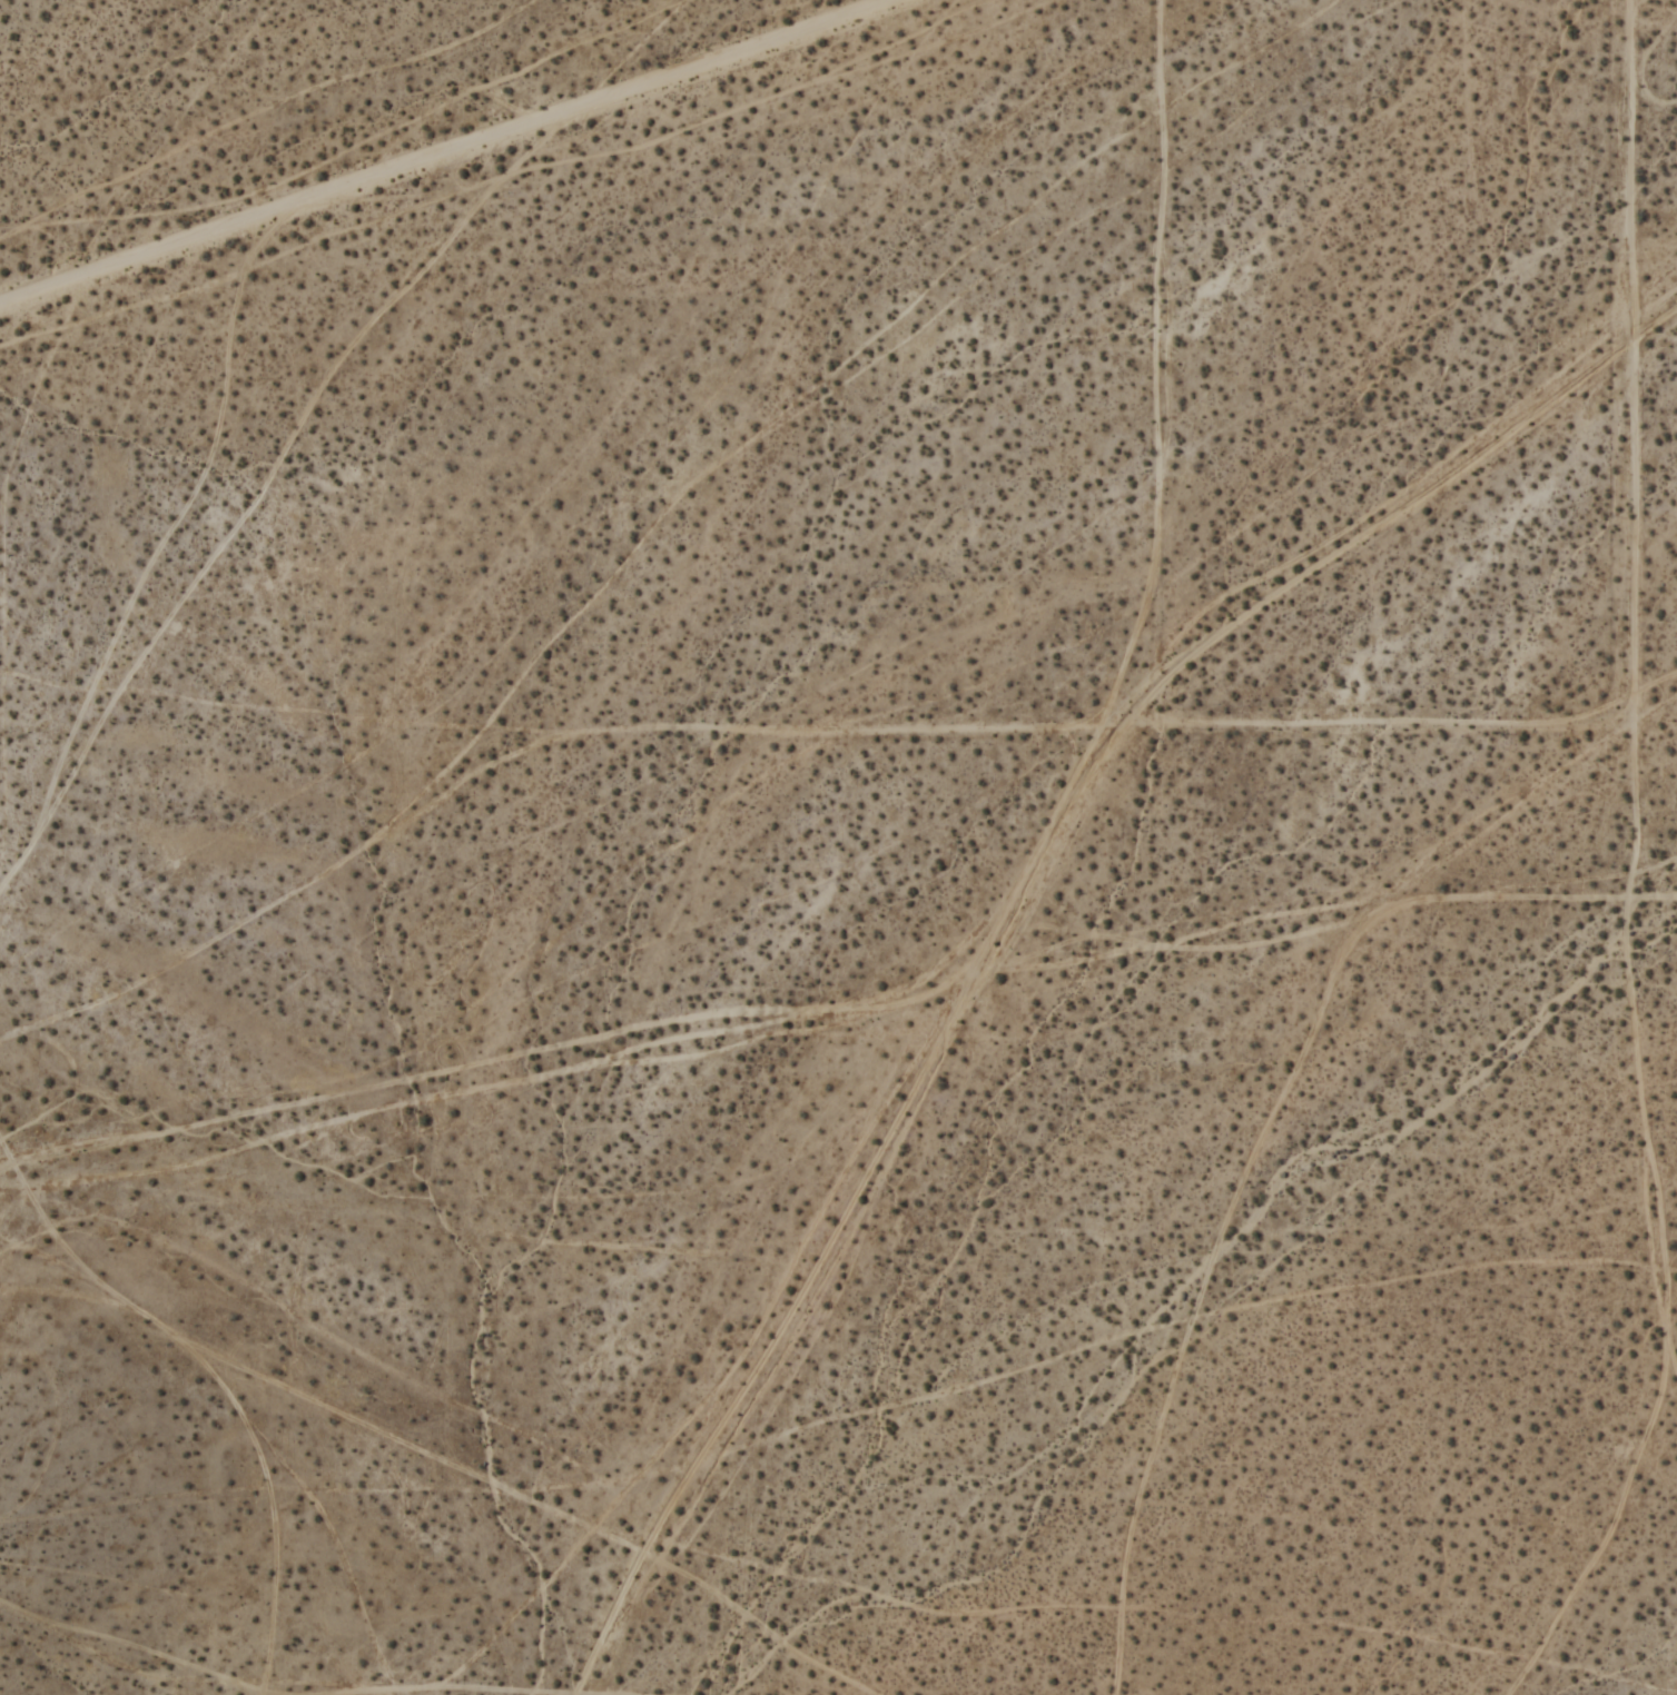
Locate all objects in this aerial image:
road: (444, 151)

